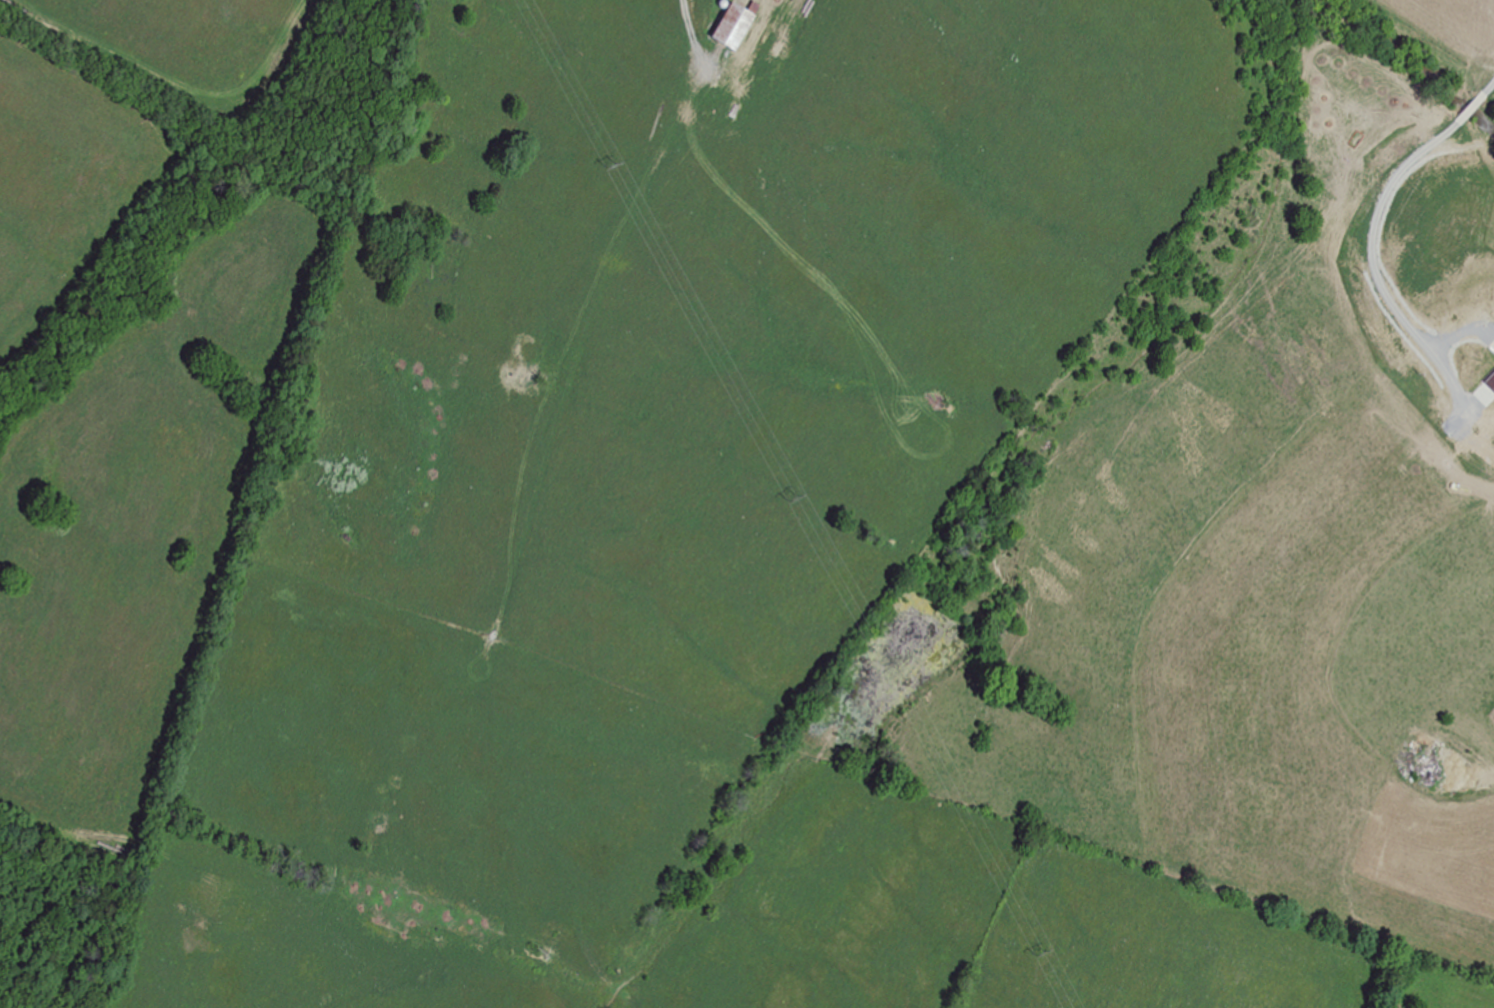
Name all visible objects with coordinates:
building: (739, 27)
road: (1369, 231)

